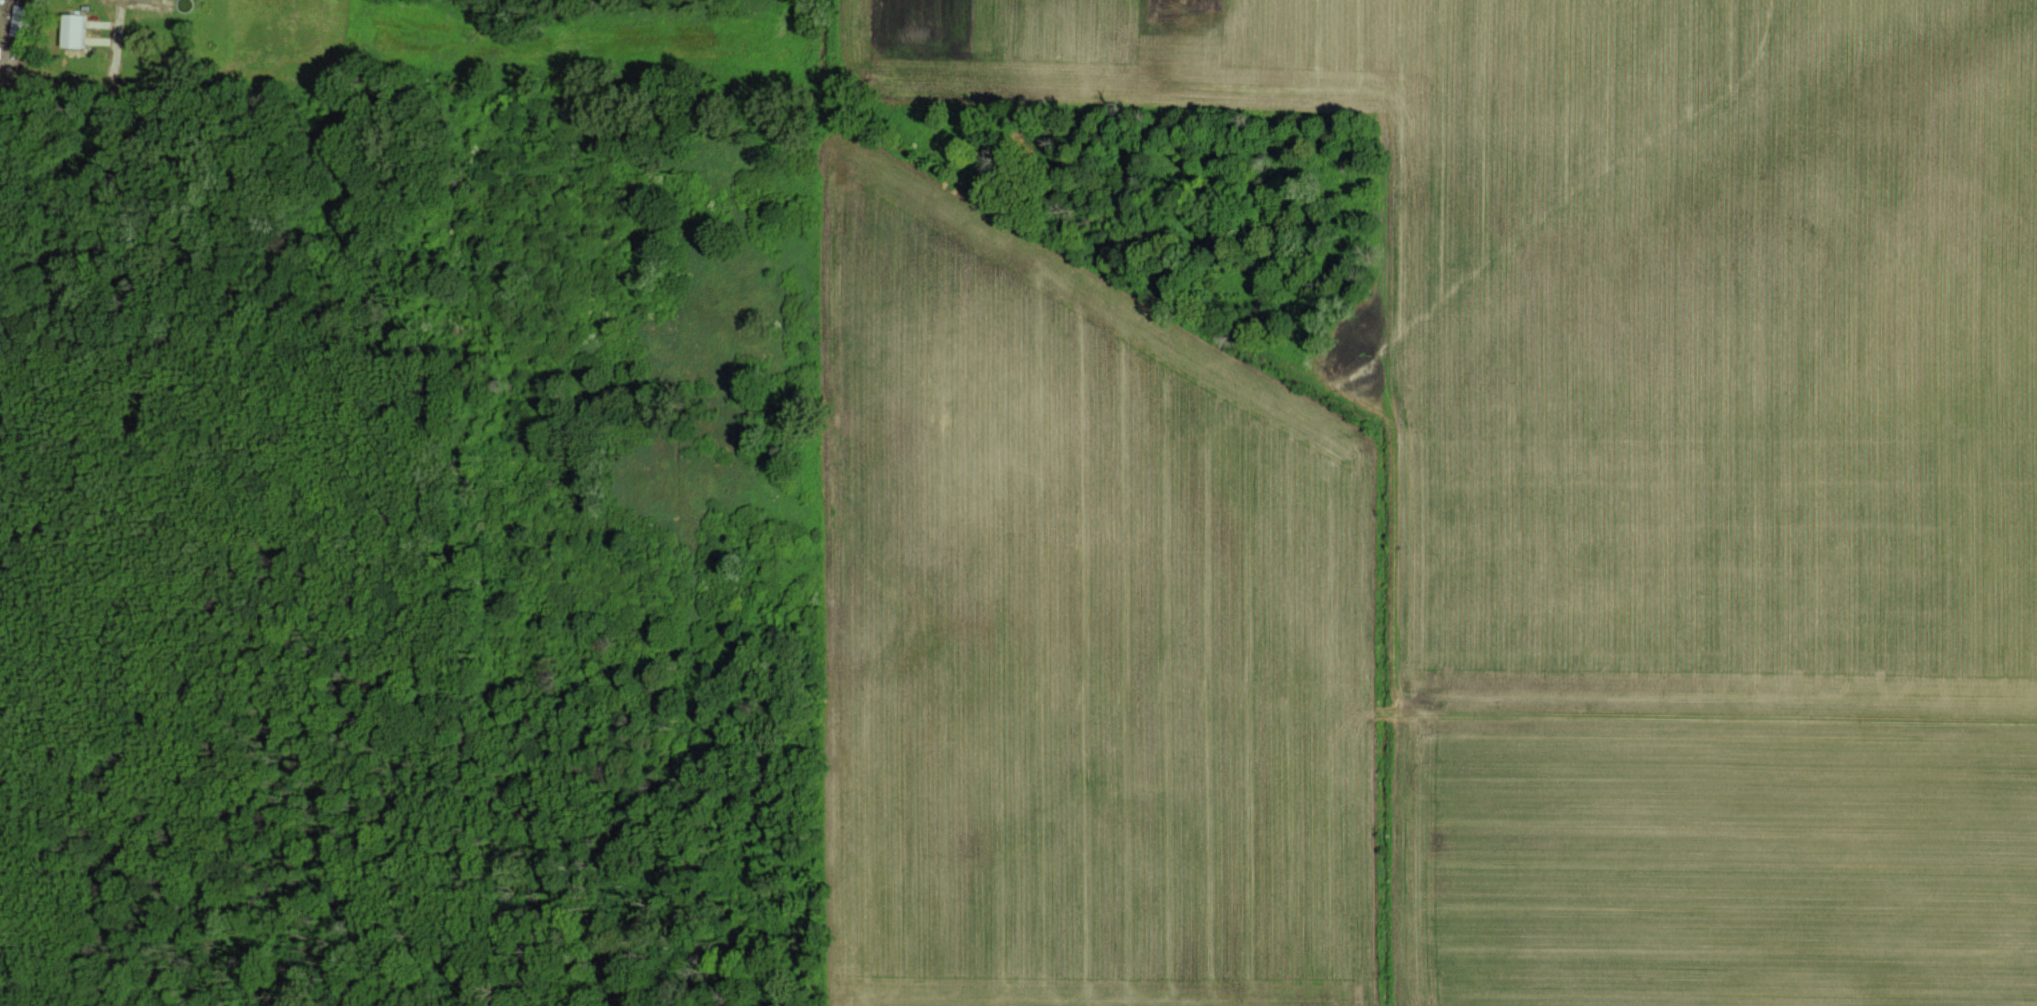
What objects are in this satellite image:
building: (146, 1)
building: (74, 30)
road: (247, 93)

